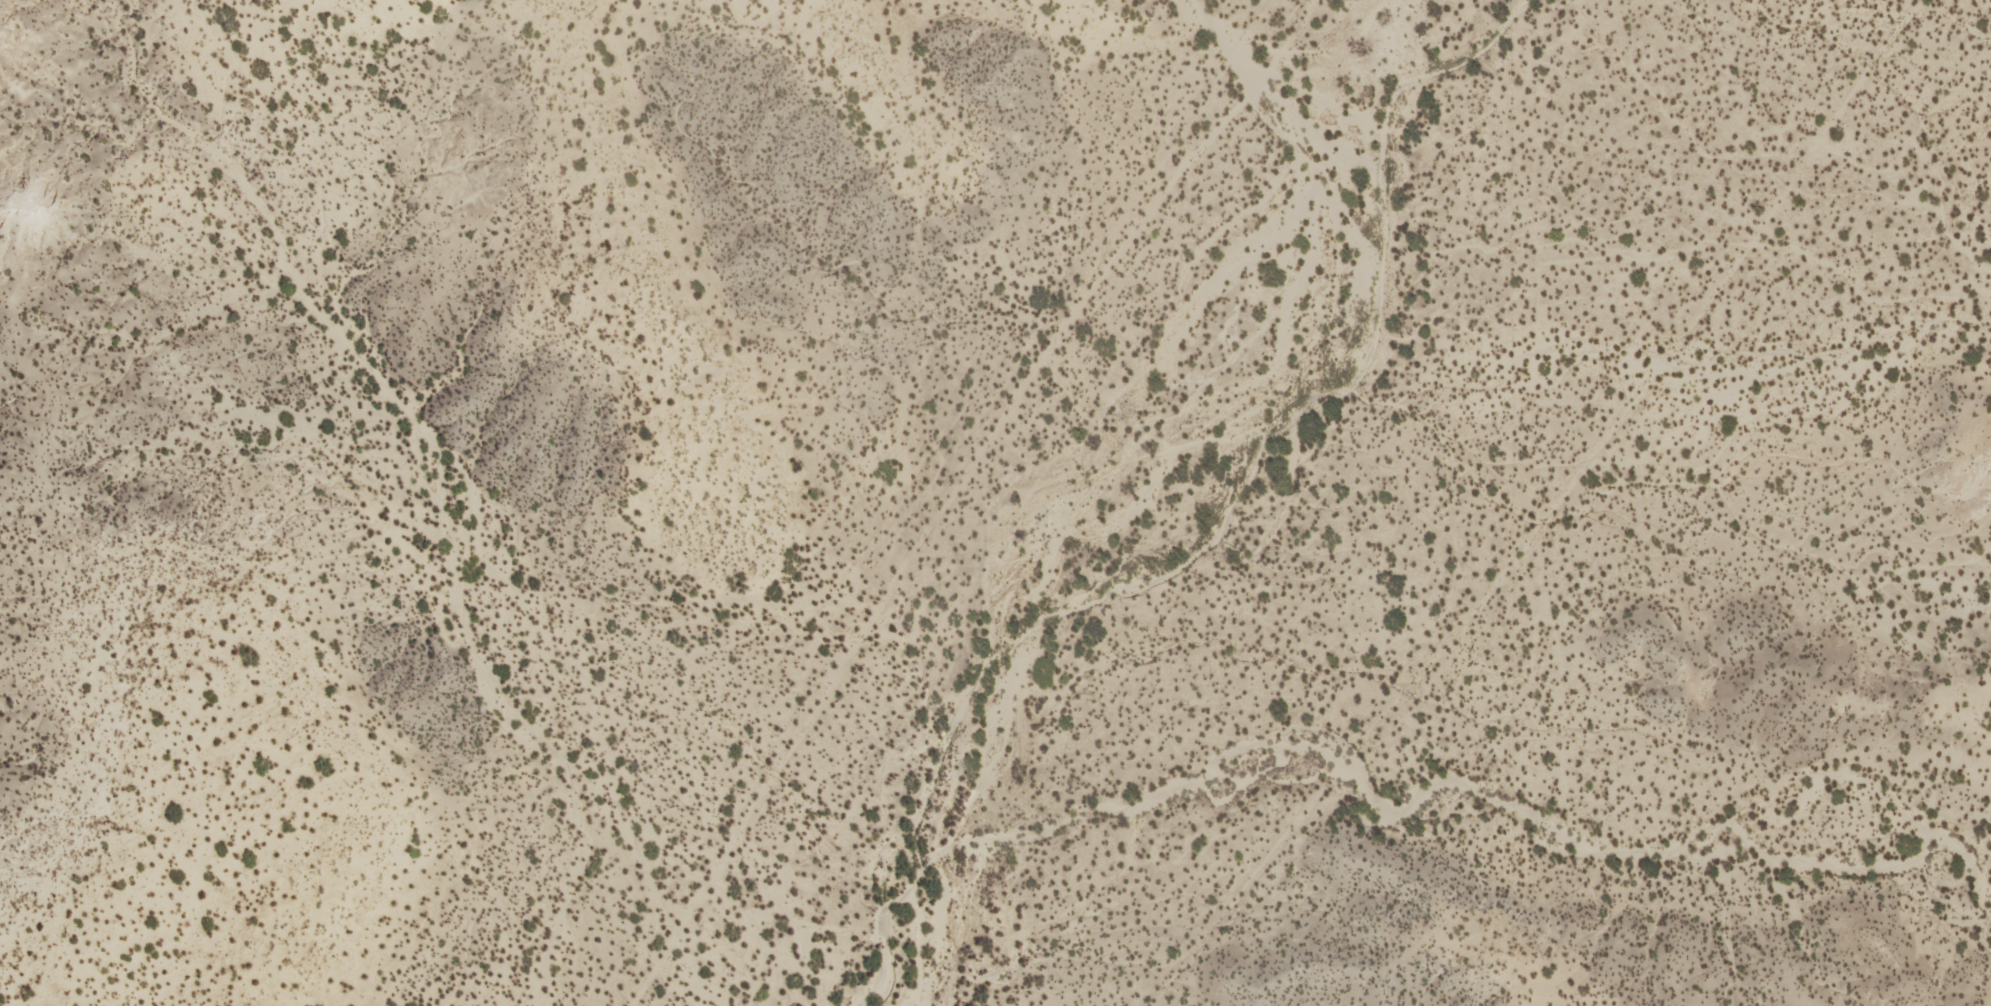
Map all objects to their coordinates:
road: (989, 509)
road: (1645, 520)

